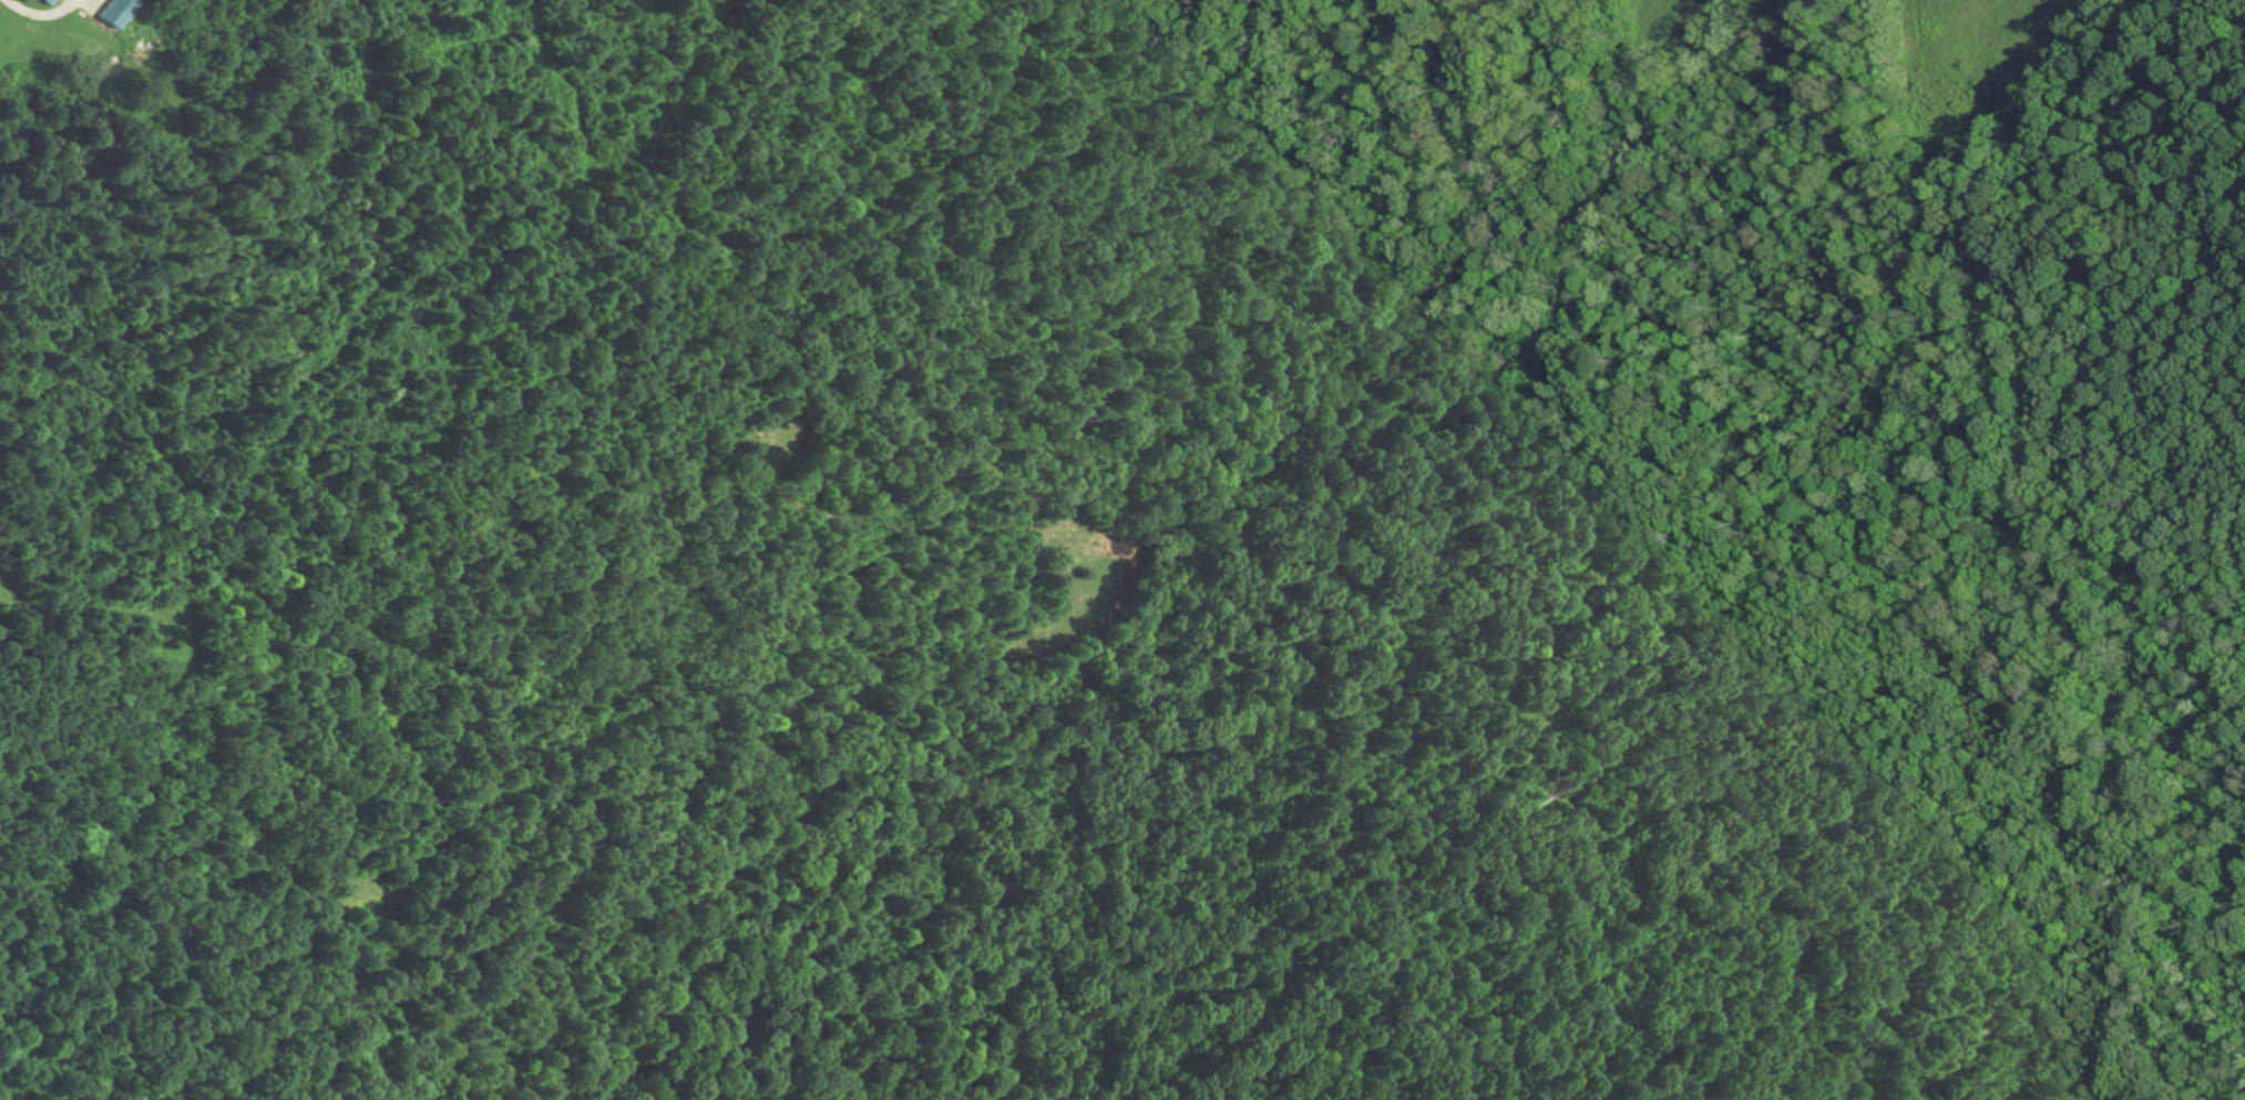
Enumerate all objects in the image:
building: (53, 1)

